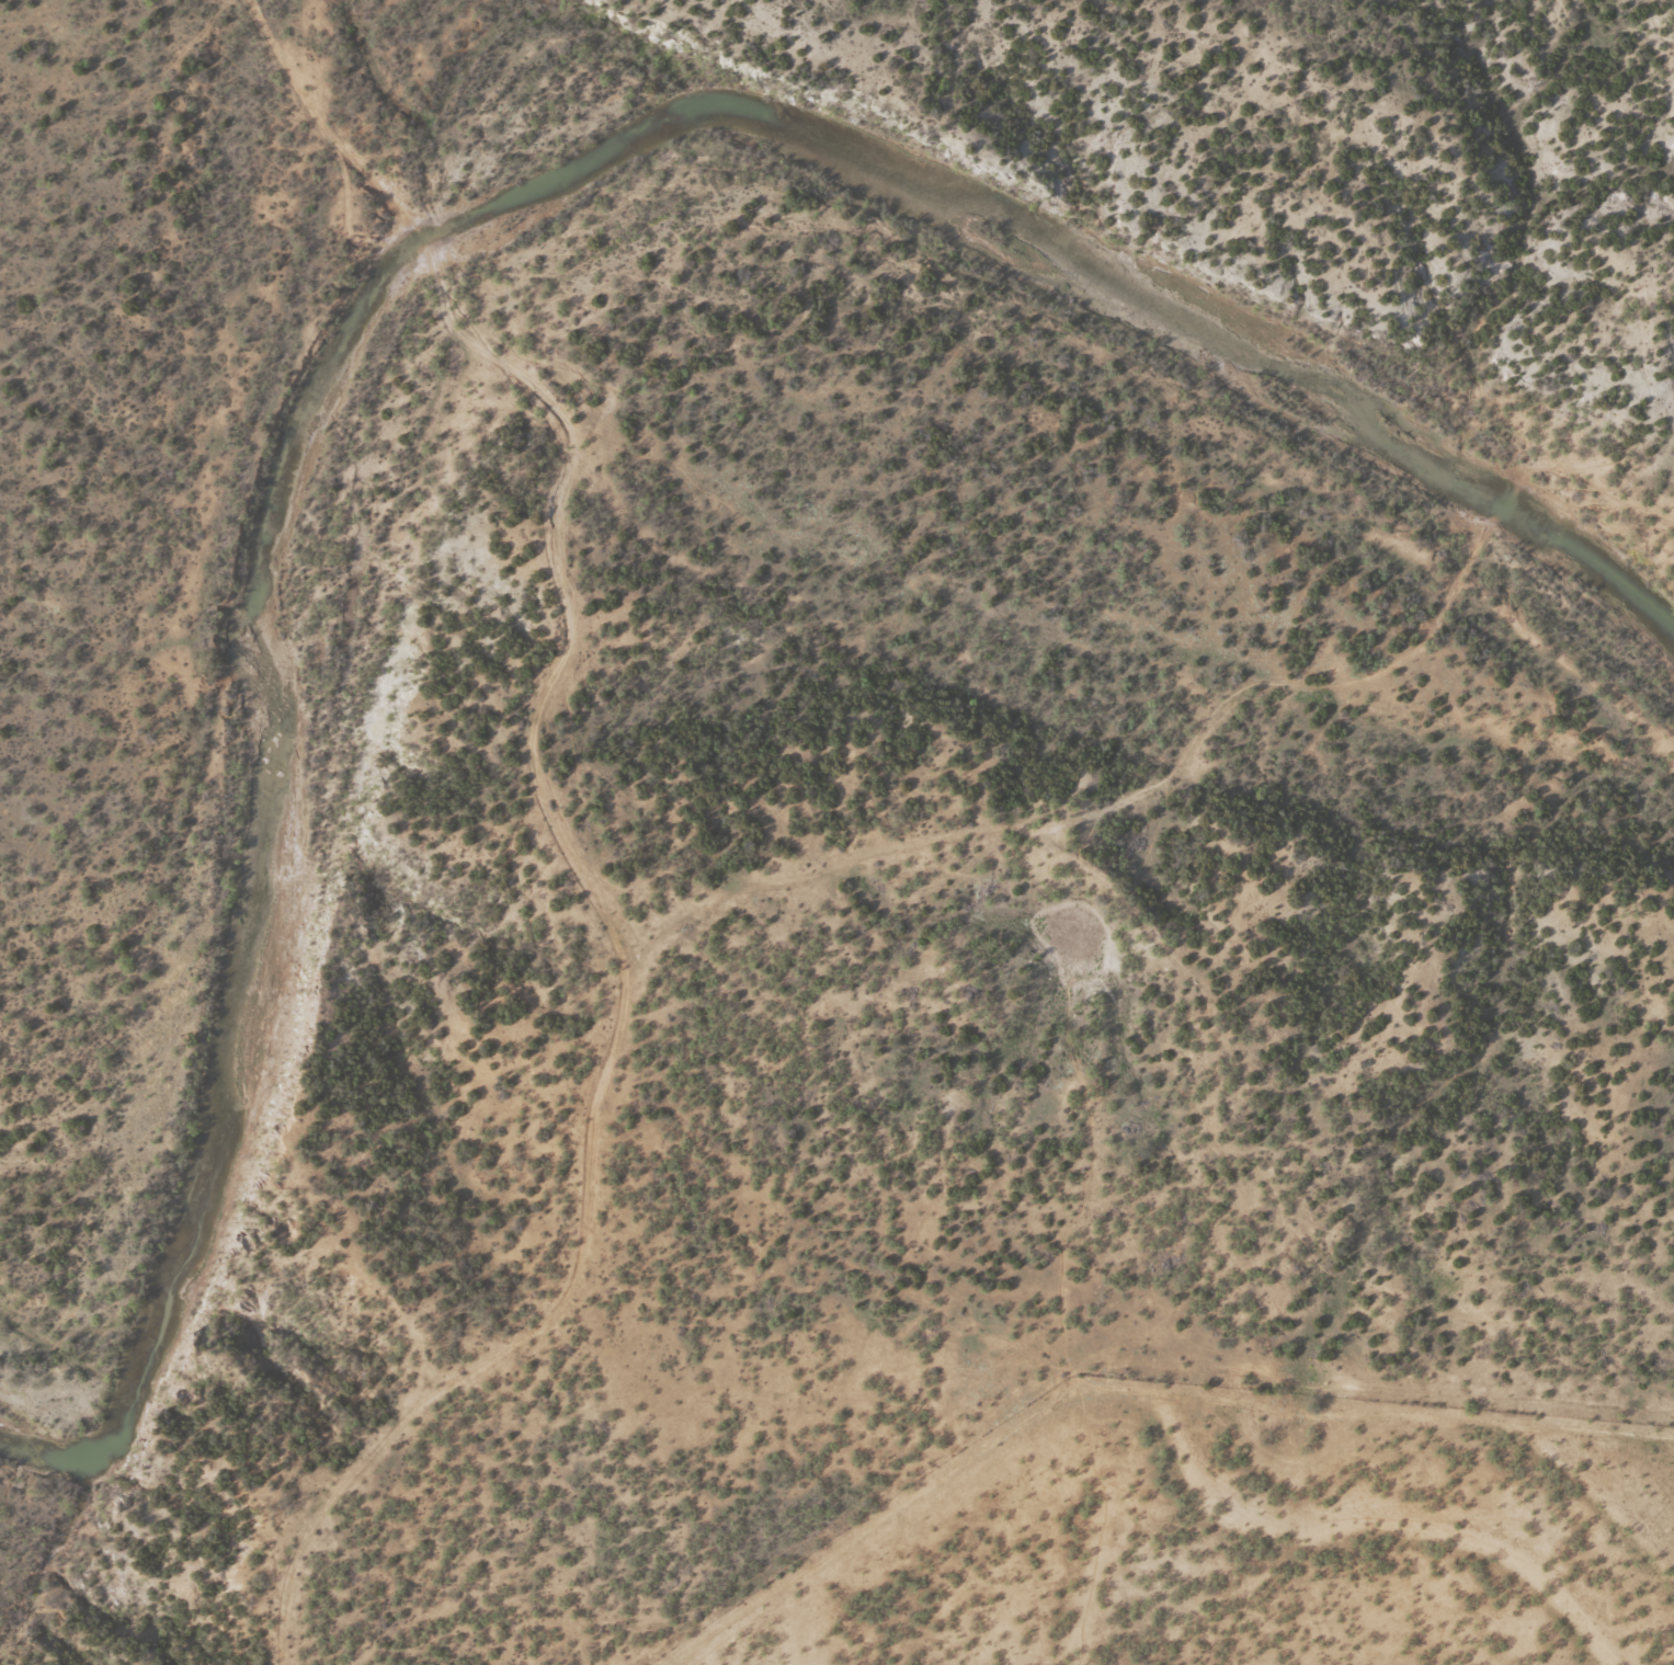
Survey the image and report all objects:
river: (444, 240)
road: (673, 915)
road: (428, 1318)

